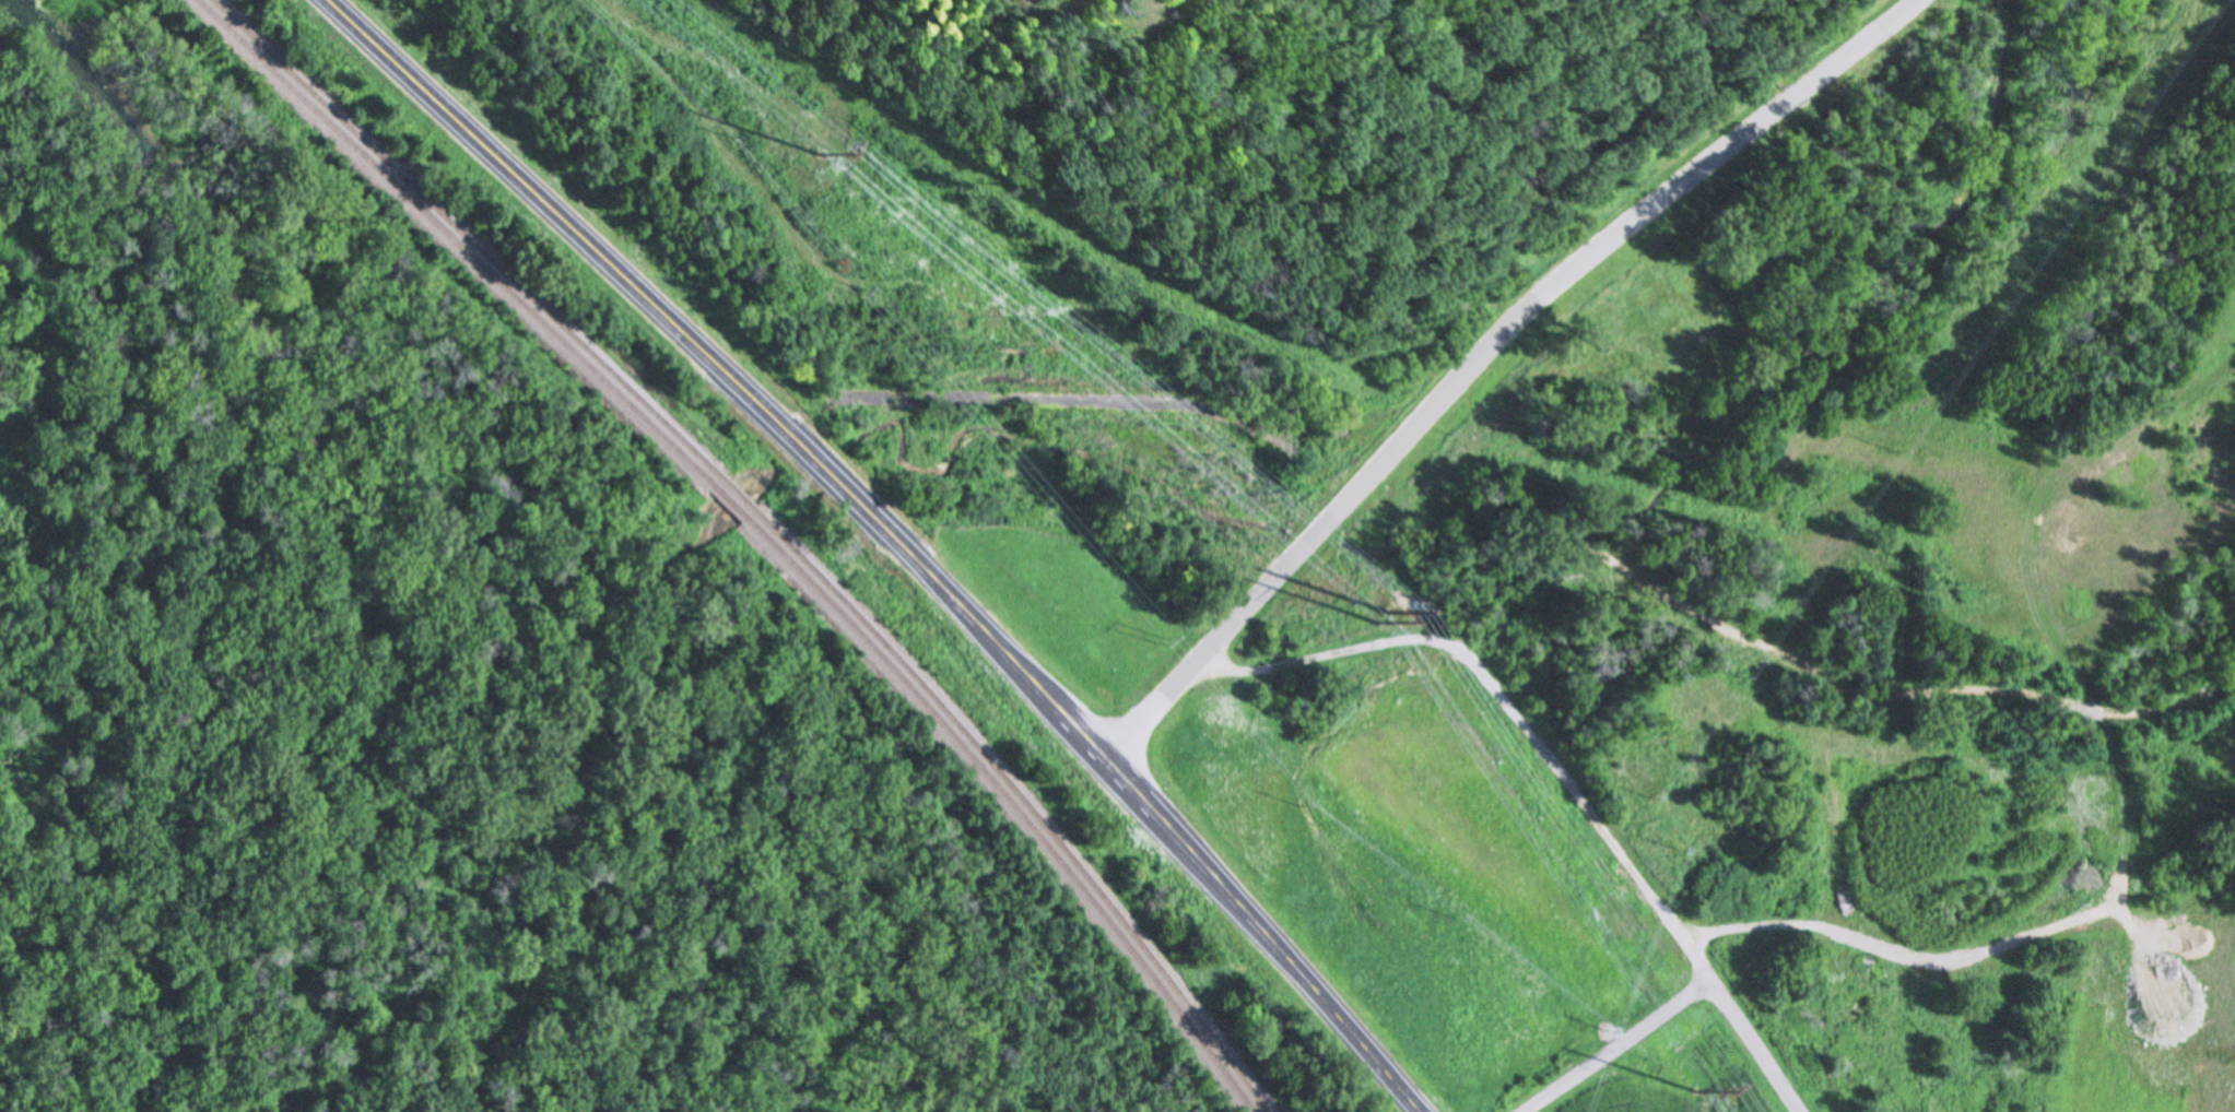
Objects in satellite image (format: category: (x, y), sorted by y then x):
power tower: (725, 137)
power tower: (820, 155)
power tower: (2055, 223)
railway: (468, 236)
railway: (455, 240)
power tower: (863, 289)
road: (1459, 376)
road: (1173, 406)
power tower: (1896, 450)
railway: (738, 490)
railway: (730, 498)
road: (894, 534)
power tower: (1389, 610)
power tower: (1377, 618)
power tower: (1161, 639)
power tower: (1740, 675)
road: (1509, 702)
power tower: (1655, 797)
railway: (1024, 798)
railway: (1013, 803)
power tower: (1299, 803)
power tower: (1682, 849)
power tower: (1456, 918)
power tower: (1609, 1030)
road: (1616, 1048)
road: (1754, 1048)
power tower: (1697, 1089)

